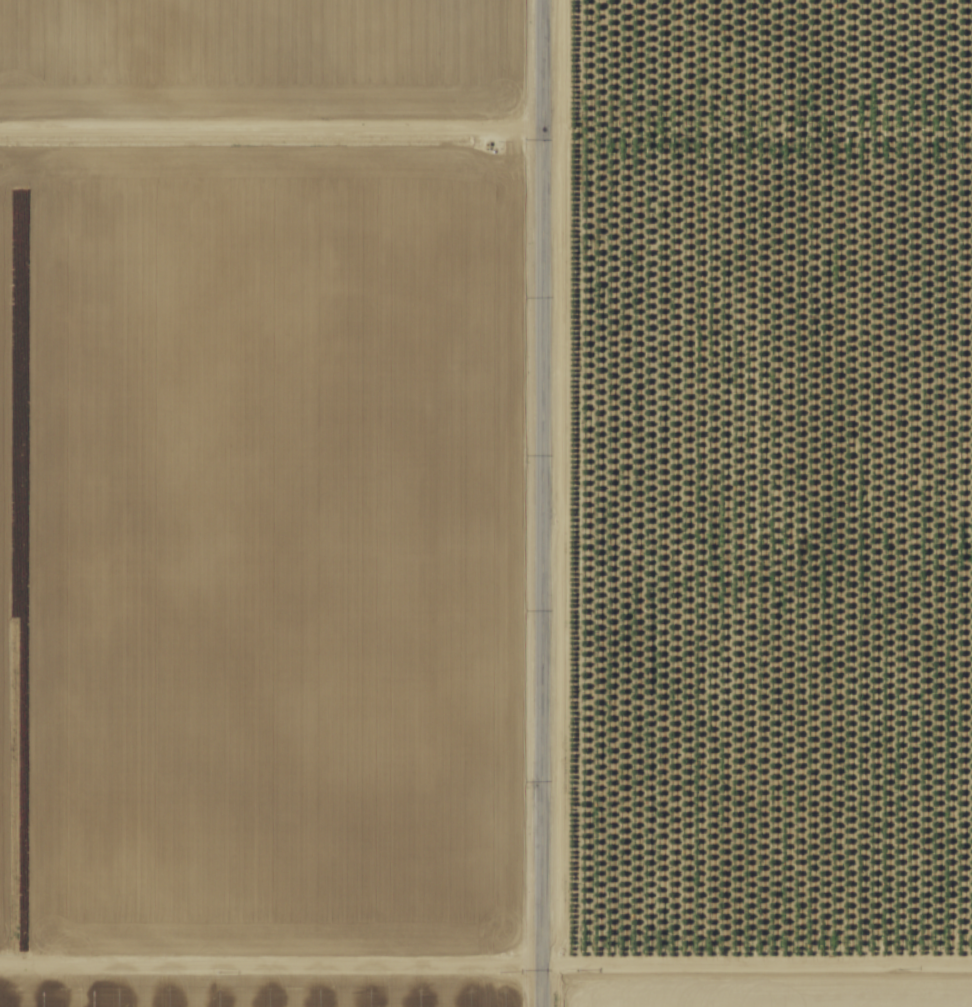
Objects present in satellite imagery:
road: (540, 503)

